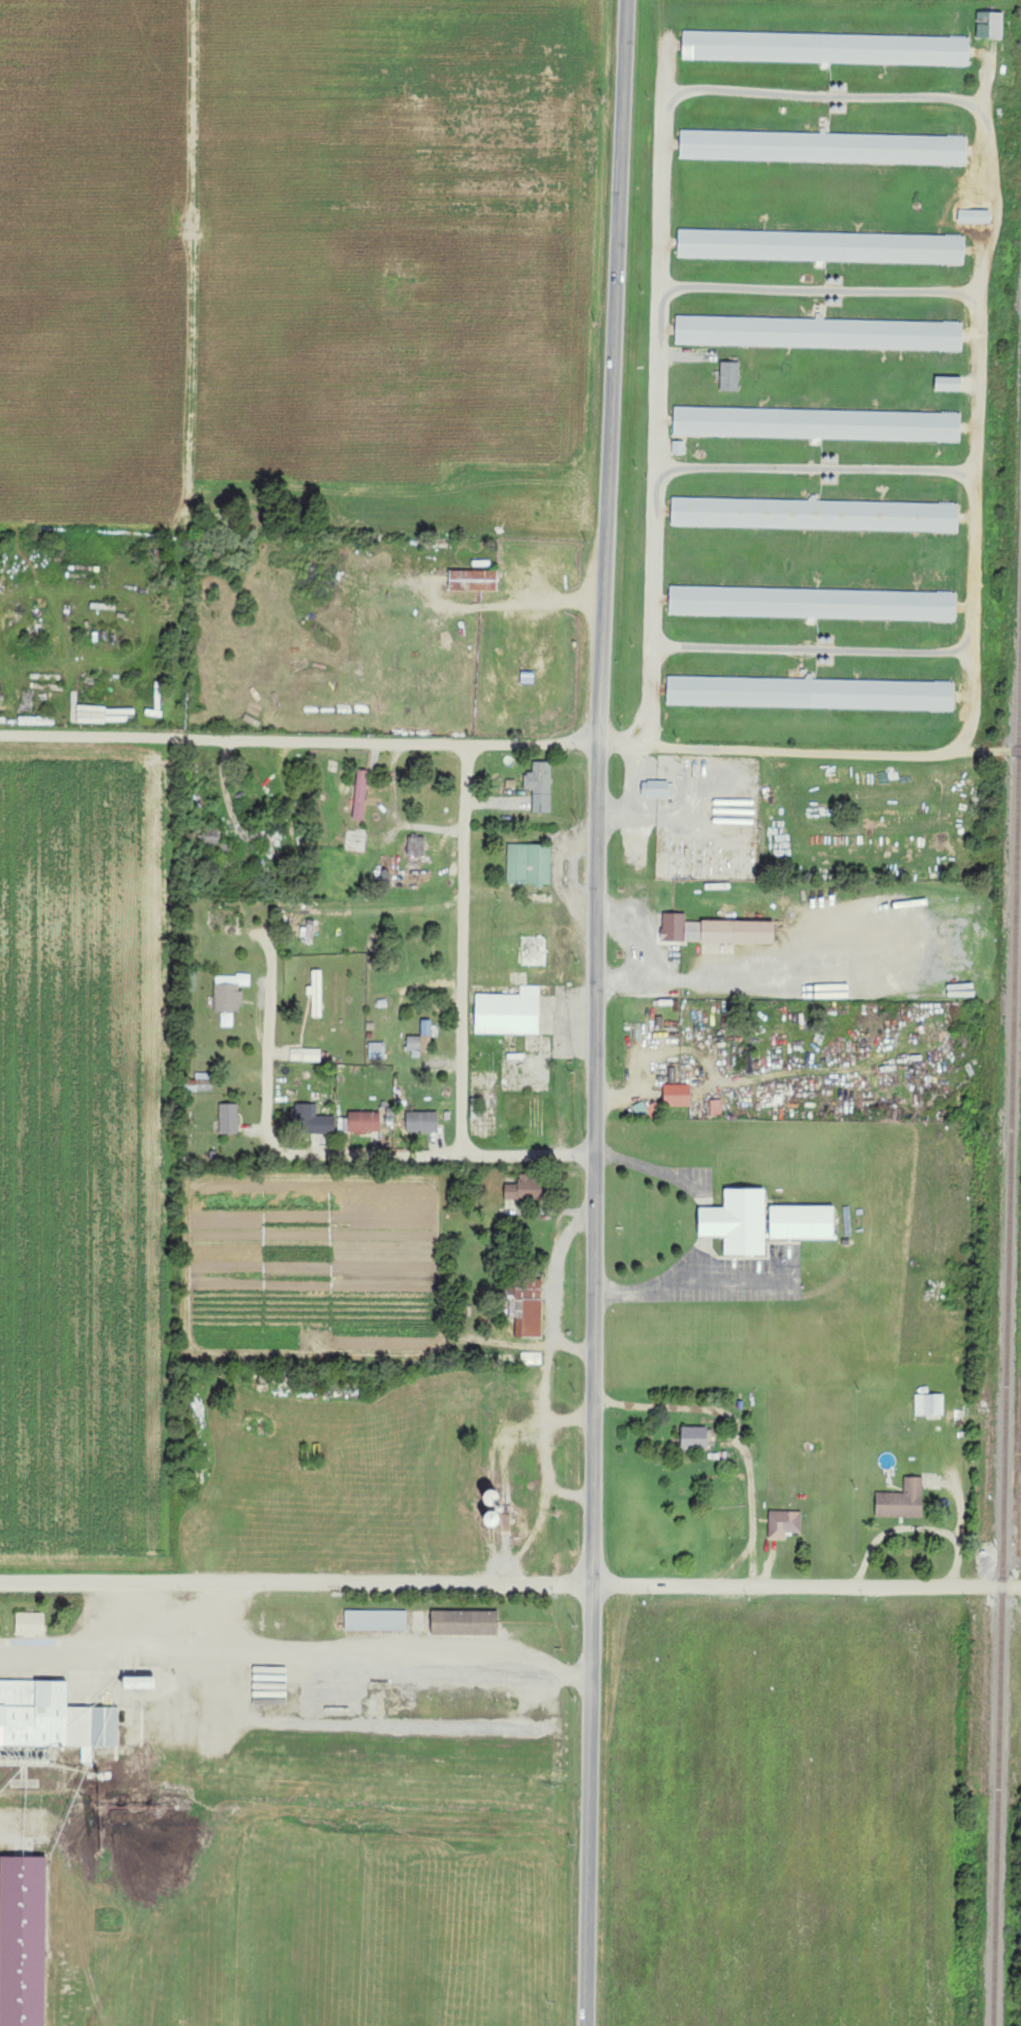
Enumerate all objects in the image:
building: (992, 20)
building: (827, 46)
building: (1003, 64)
building: (825, 145)
building: (977, 214)
building: (821, 244)
building: (821, 330)
building: (731, 374)
building: (952, 382)
road: (656, 387)
building: (819, 421)
building: (681, 445)
building: (816, 512)
building: (475, 578)
road: (579, 598)
building: (813, 601)
building: (811, 691)
road: (299, 739)
road: (809, 748)
building: (540, 786)
building: (657, 787)
building: (360, 795)
road: (648, 812)
road: (531, 835)
building: (211, 837)
building: (416, 846)
building: (529, 864)
building: (715, 931)
road: (465, 948)
road: (634, 980)
building: (229, 996)
road: (598, 1012)
building: (509, 1013)
building: (426, 1027)
building: (415, 1046)
building: (377, 1051)
building: (305, 1055)
building: (200, 1083)
road: (643, 1089)
building: (677, 1095)
building: (716, 1107)
building: (641, 1110)
building: (229, 1119)
building: (310, 1121)
building: (364, 1123)
building: (422, 1123)
road: (323, 1156)
building: (524, 1188)
building: (739, 1221)
building: (803, 1221)
building: (529, 1307)
building: (531, 1358)
railway: (1008, 1363)
building: (930, 1404)
road: (741, 1428)
building: (695, 1437)
building: (902, 1500)
road: (963, 1521)
building: (784, 1523)
road: (296, 1581)
road: (806, 1586)
building: (376, 1620)
building: (465, 1622)
building: (30, 1624)
road: (95, 1650)
road: (376, 1655)
building: (142, 1682)
building: (52, 1717)
building: (23, 1940)

